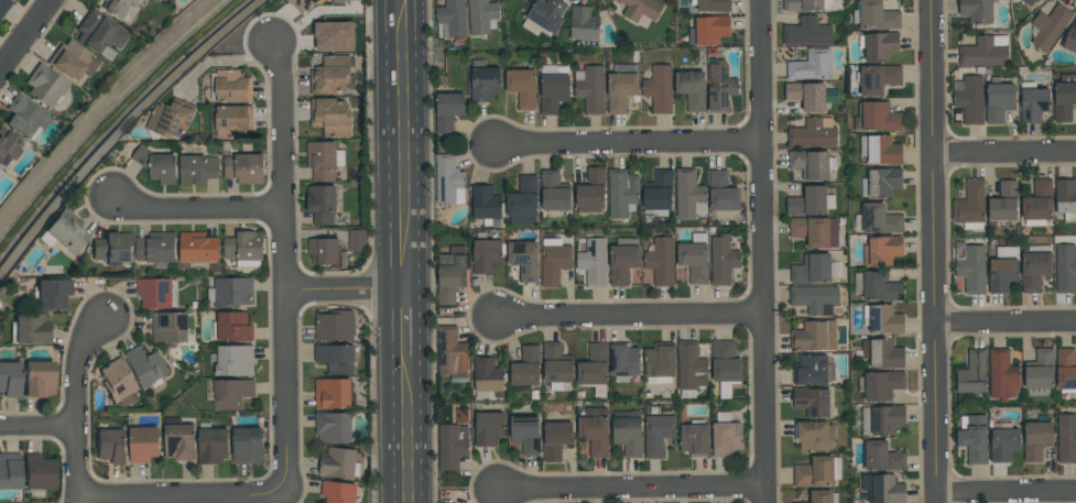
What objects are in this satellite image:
building: (340, 1)
building: (1026, 1)
building: (303, 4)
building: (805, 4)
building: (3, 6)
building: (713, 7)
building: (119, 8)
building: (640, 10)
building: (977, 11)
building: (547, 14)
building: (482, 17)
building: (878, 17)
building: (454, 18)
building: (584, 24)
building: (1050, 26)
building: (711, 32)
building: (807, 32)
building: (100, 34)
building: (334, 36)
road: (26, 37)
building: (1070, 40)
building: (879, 45)
building: (985, 51)
building: (72, 62)
building: (811, 66)
building: (330, 75)
building: (878, 78)
building: (483, 81)
building: (44, 86)
building: (230, 86)
building: (522, 87)
building: (621, 87)
building: (720, 87)
building: (590, 88)
building: (692, 88)
building: (661, 90)
building: (554, 91)
building: (807, 96)
building: (1064, 97)
building: (969, 98)
building: (998, 100)
building: (1033, 102)
building: (448, 111)
building: (24, 117)
building: (330, 117)
building: (877, 117)
building: (171, 119)
building: (232, 121)
building: (813, 134)
road: (628, 144)
road: (415, 145)
building: (8, 147)
building: (880, 150)
road: (1004, 154)
building: (324, 160)
building: (812, 164)
building: (156, 165)
building: (244, 167)
building: (198, 170)
building: (448, 179)
building: (881, 183)
building: (591, 189)
building: (554, 192)
building: (722, 192)
building: (622, 194)
building: (657, 194)
building: (689, 195)
building: (1066, 199)
building: (523, 200)
building: (811, 201)
building: (1003, 203)
building: (322, 204)
building: (1037, 204)
building: (486, 205)
building: (970, 205)
road: (197, 211)
building: (880, 219)
building: (815, 231)
building: (64, 232)
building: (357, 241)
building: (112, 248)
building: (156, 248)
building: (198, 248)
building: (244, 249)
building: (882, 250)
building: (324, 251)
road: (387, 251)
road: (761, 251)
road: (935, 251)
building: (486, 255)
building: (694, 258)
building: (524, 259)
building: (722, 259)
building: (623, 260)
building: (554, 261)
building: (660, 261)
building: (594, 262)
building: (1035, 266)
building: (814, 269)
building: (1003, 269)
building: (1065, 269)
building: (971, 270)
road: (286, 274)
building: (452, 274)
building: (877, 286)
building: (156, 292)
road: (351, 292)
building: (230, 293)
building: (52, 294)
building: (815, 299)
road: (627, 315)
building: (883, 319)
building: (334, 326)
road: (1006, 326)
building: (231, 327)
building: (170, 328)
building: (29, 329)
building: (815, 336)
building: (883, 353)
building: (452, 354)
building: (336, 358)
building: (235, 361)
building: (623, 362)
building: (660, 362)
building: (146, 367)
building: (525, 367)
building: (556, 367)
building: (725, 367)
building: (595, 369)
building: (691, 369)
building: (812, 370)
building: (1065, 370)
building: (972, 372)
building: (1040, 372)
building: (1002, 375)
building: (487, 376)
building: (9, 379)
building: (37, 379)
building: (118, 382)
building: (883, 384)
building: (232, 393)
building: (333, 393)
road: (419, 396)
building: (812, 401)
road: (77, 404)
building: (881, 419)
road: (37, 427)
building: (333, 427)
building: (488, 428)
building: (595, 431)
building: (526, 434)
building: (657, 435)
building: (726, 435)
building: (813, 435)
building: (628, 436)
building: (695, 438)
building: (974, 438)
building: (1067, 438)
building: (556, 439)
building: (178, 440)
building: (1035, 440)
building: (143, 444)
building: (213, 444)
building: (1003, 444)
building: (111, 445)
building: (248, 446)
building: (452, 447)
building: (882, 457)
building: (339, 463)
building: (10, 471)
building: (817, 471)
building: (37, 472)
road: (631, 486)
building: (882, 489)
building: (338, 492)
road: (1007, 494)
building: (823, 496)
road: (167, 497)
road: (73, 501)

